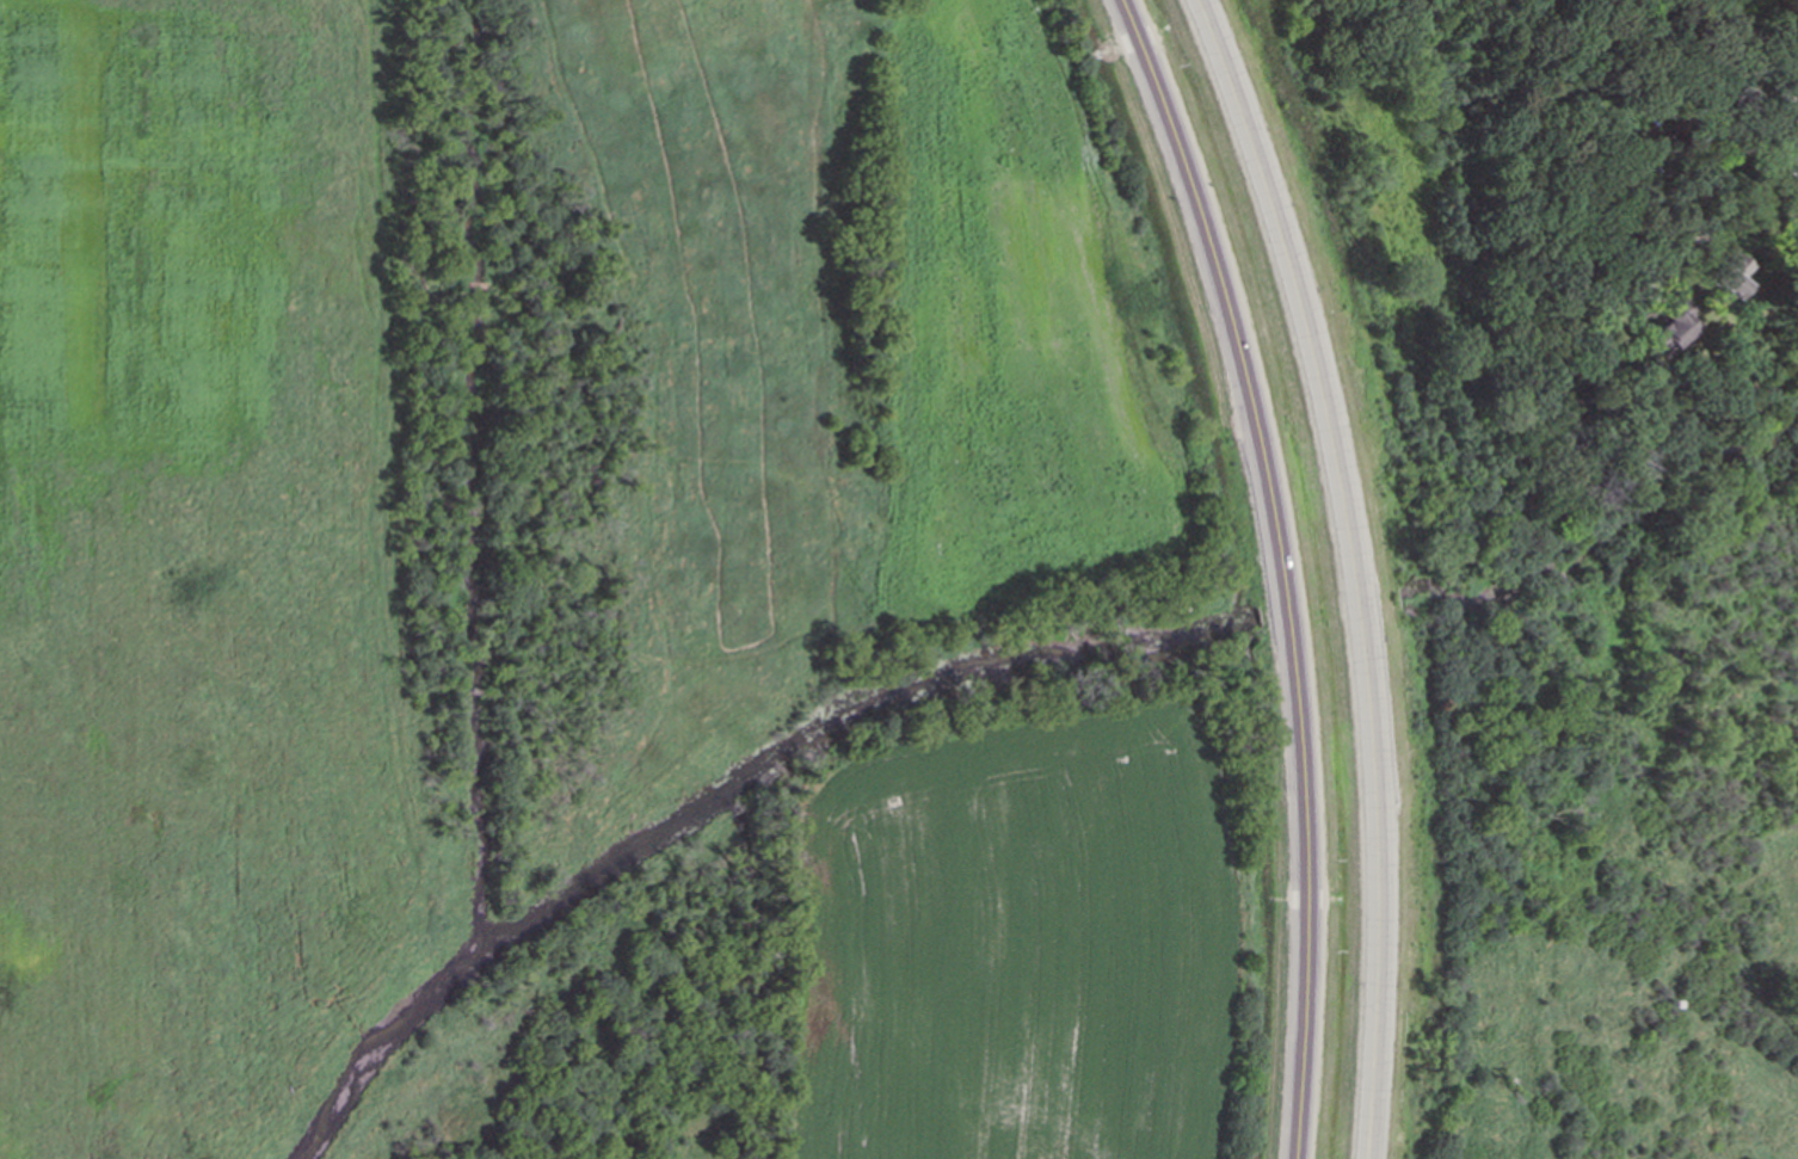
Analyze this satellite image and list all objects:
building: (1788, 155)
building: (1797, 179)
road: (1725, 183)
building: (1729, 276)
building: (1668, 332)
road: (1281, 568)
road: (1354, 568)

